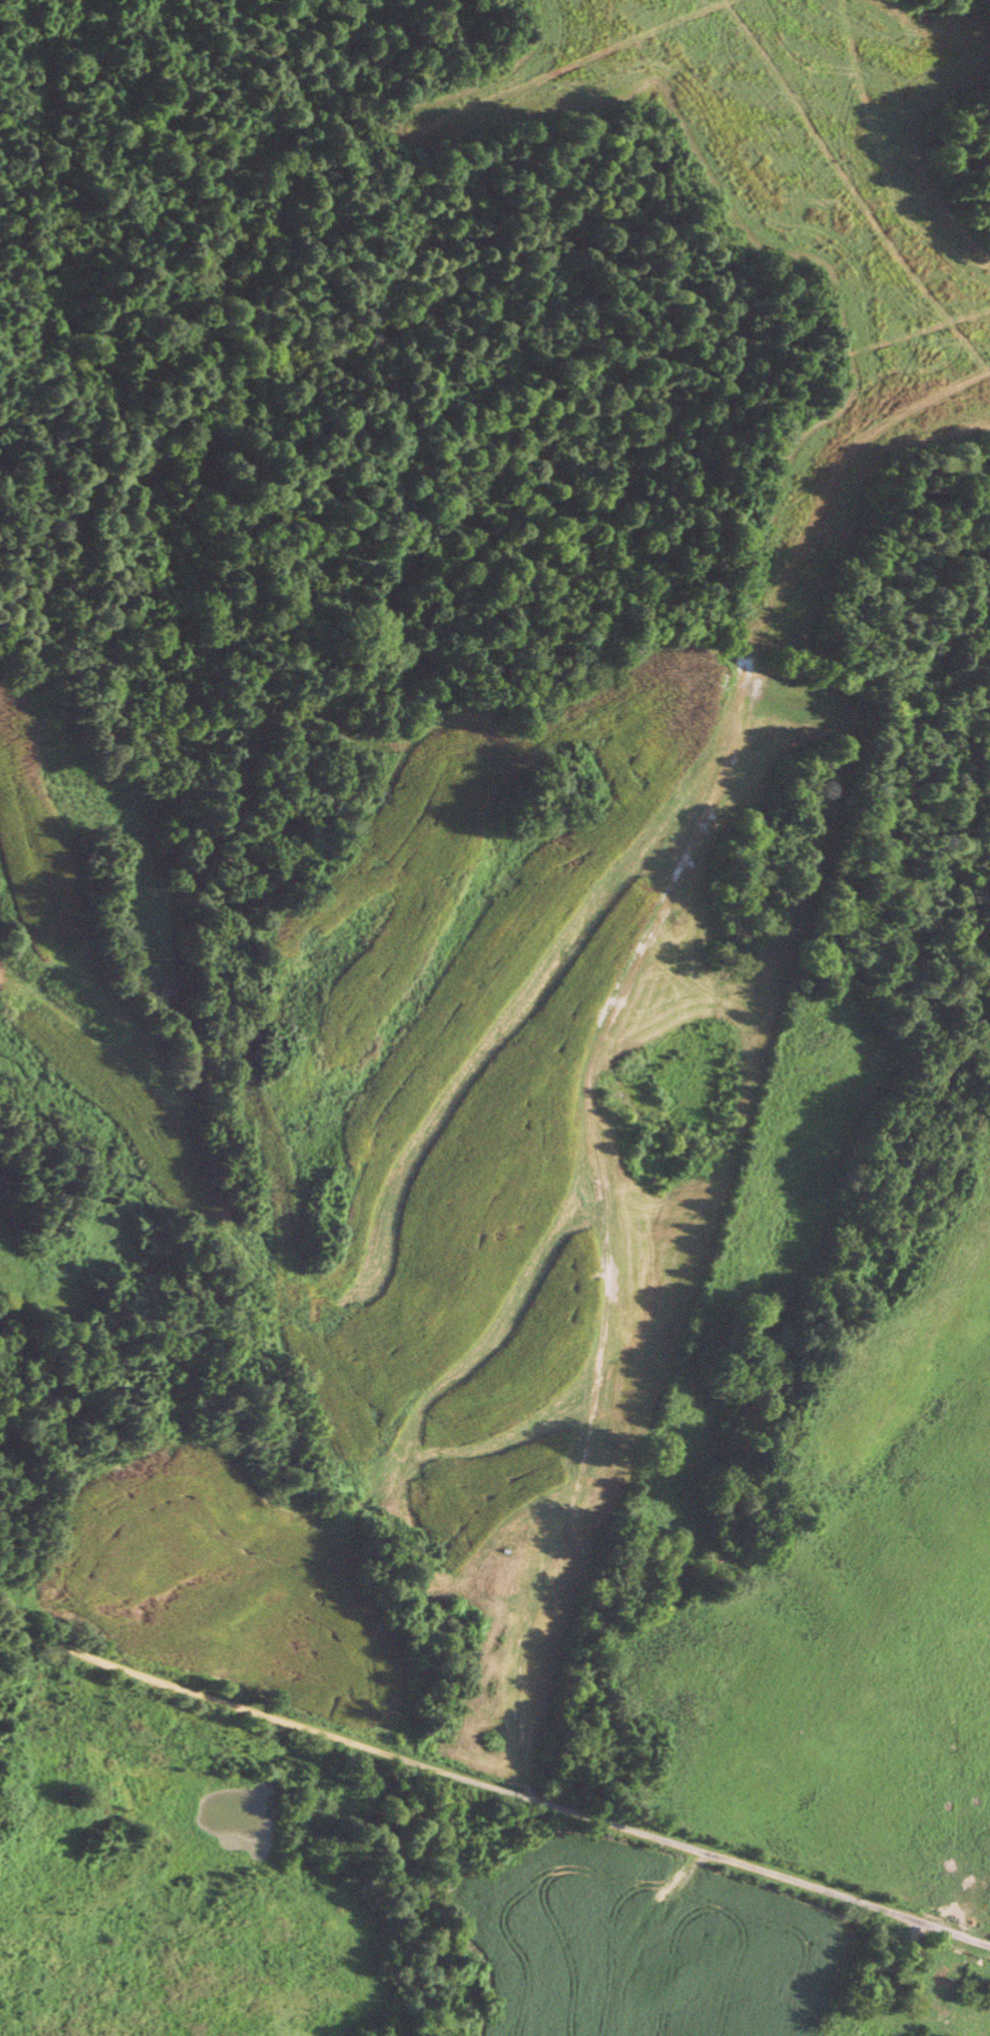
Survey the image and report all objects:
road: (494, 1788)

